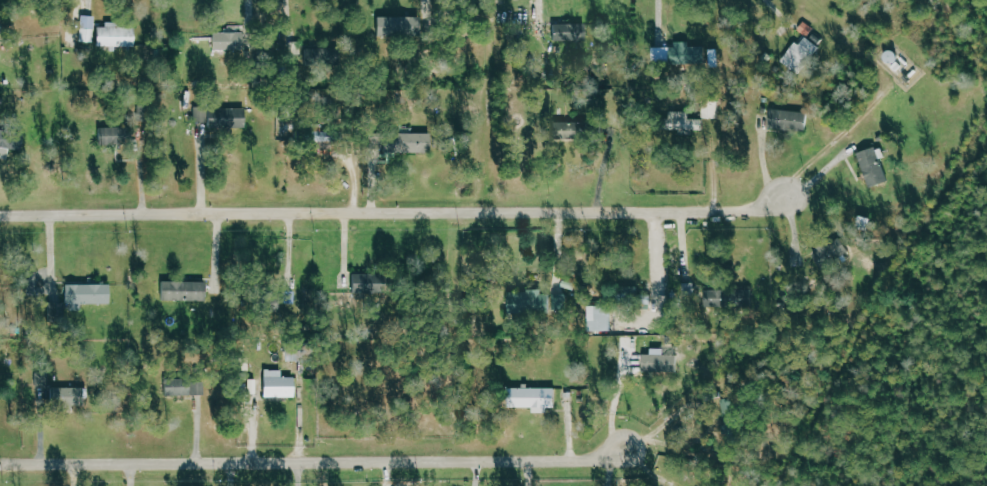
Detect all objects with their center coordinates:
road: (781, 11)
building: (396, 26)
building: (567, 32)
building: (80, 36)
building: (115, 36)
building: (226, 41)
building: (296, 50)
building: (800, 54)
building: (687, 55)
building: (710, 110)
building: (217, 118)
building: (786, 120)
building: (681, 122)
building: (564, 130)
building: (107, 136)
building: (402, 143)
building: (10, 144)
building: (872, 166)
road: (394, 213)
building: (831, 252)
building: (364, 282)
building: (181, 291)
building: (84, 295)
building: (727, 298)
building: (533, 302)
building: (598, 318)
building: (659, 363)
building: (42, 382)
building: (277, 384)
building: (175, 387)
building: (67, 398)
building: (531, 398)
road: (311, 462)

